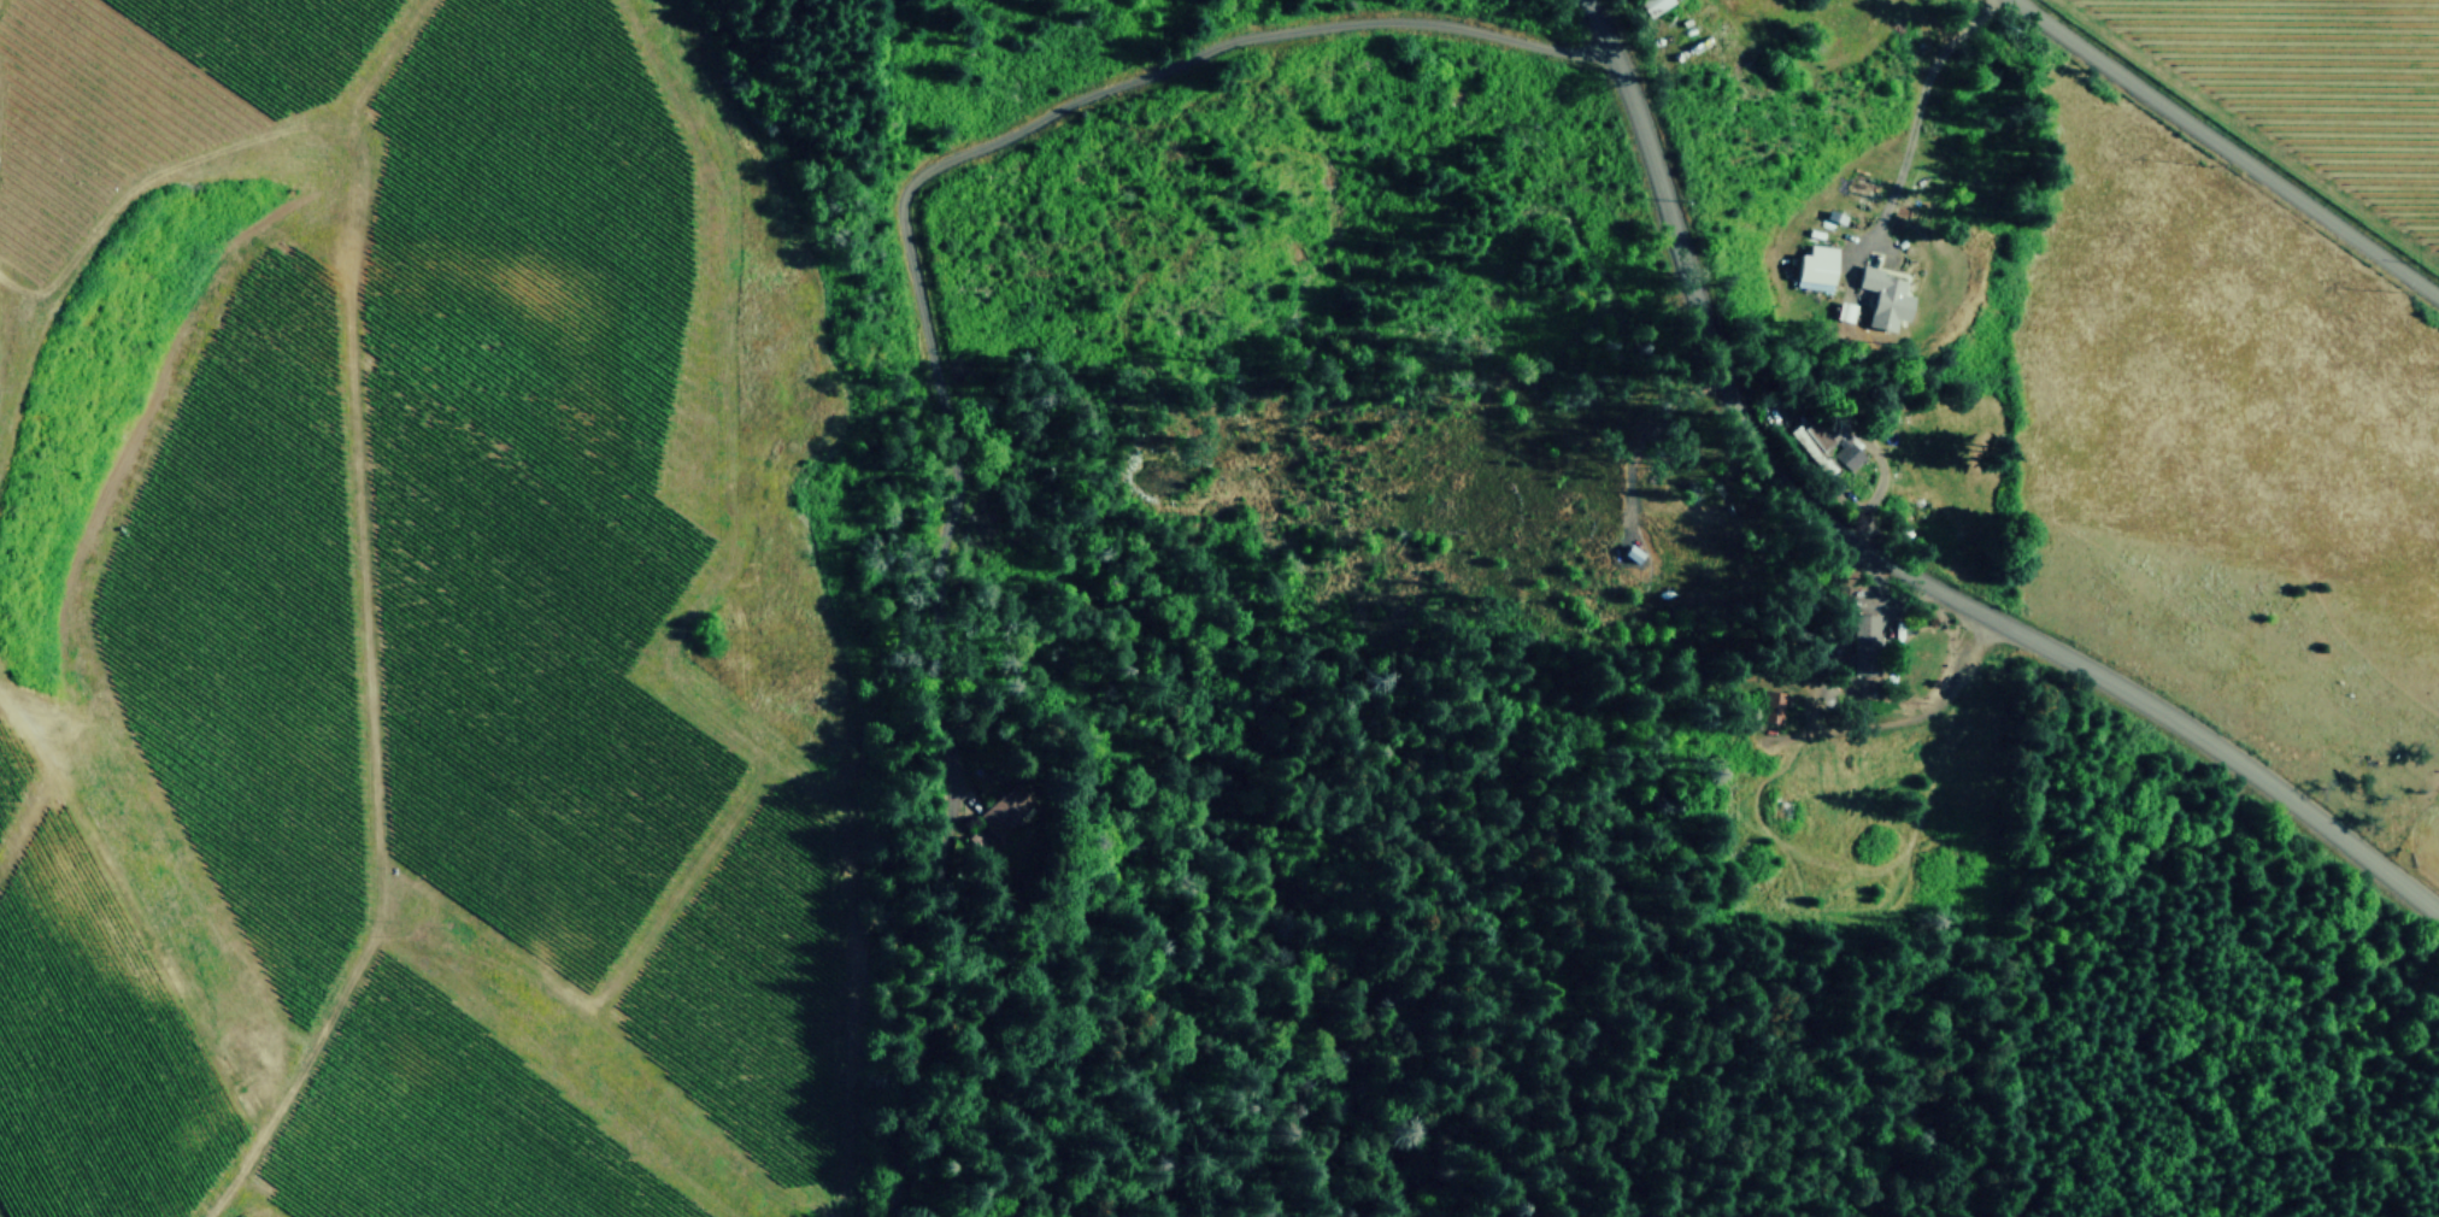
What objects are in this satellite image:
building: (1653, 4)
road: (1918, 112)
road: (2226, 148)
building: (1816, 265)
building: (1885, 296)
building: (1845, 310)
road: (922, 336)
building: (1817, 439)
building: (1850, 452)
road: (1886, 560)
building: (1864, 641)
building: (1774, 705)
building: (1005, 806)

